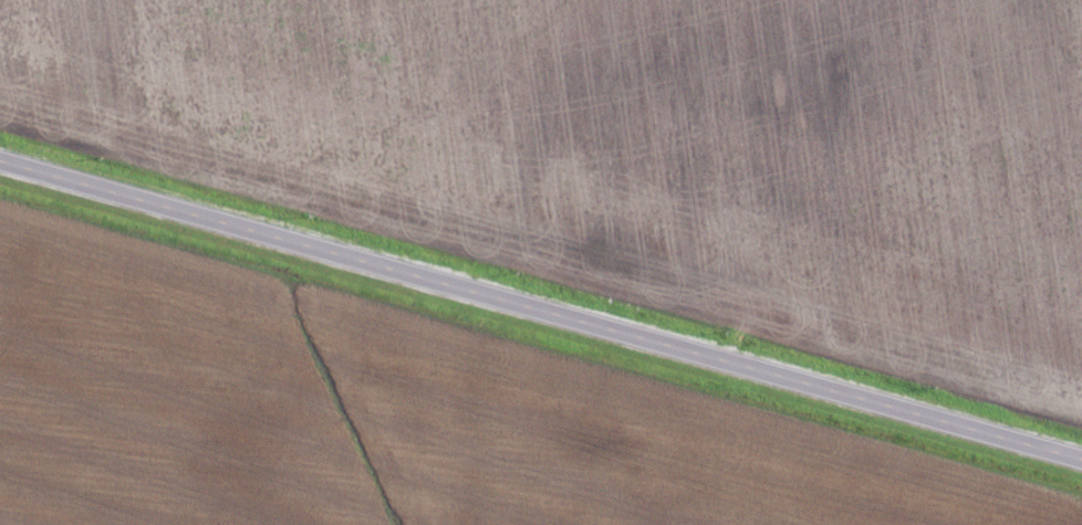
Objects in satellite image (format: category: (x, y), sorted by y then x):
road: (541, 308)

